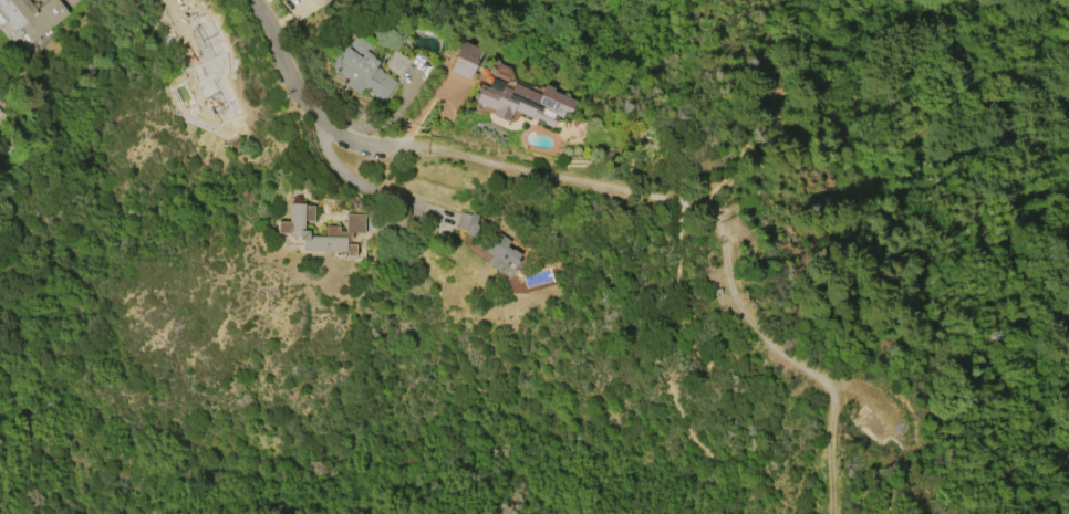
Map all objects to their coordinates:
building: (320, 3)
building: (32, 15)
building: (211, 39)
building: (465, 60)
building: (395, 64)
building: (365, 70)
road: (288, 81)
road: (875, 87)
building: (204, 88)
building: (525, 103)
building: (1, 113)
road: (865, 117)
road: (785, 129)
road: (833, 153)
road: (520, 164)
road: (717, 177)
road: (931, 180)
road: (363, 187)
road: (1015, 218)
building: (466, 223)
building: (289, 229)
building: (502, 256)
road: (775, 350)
road: (698, 379)

